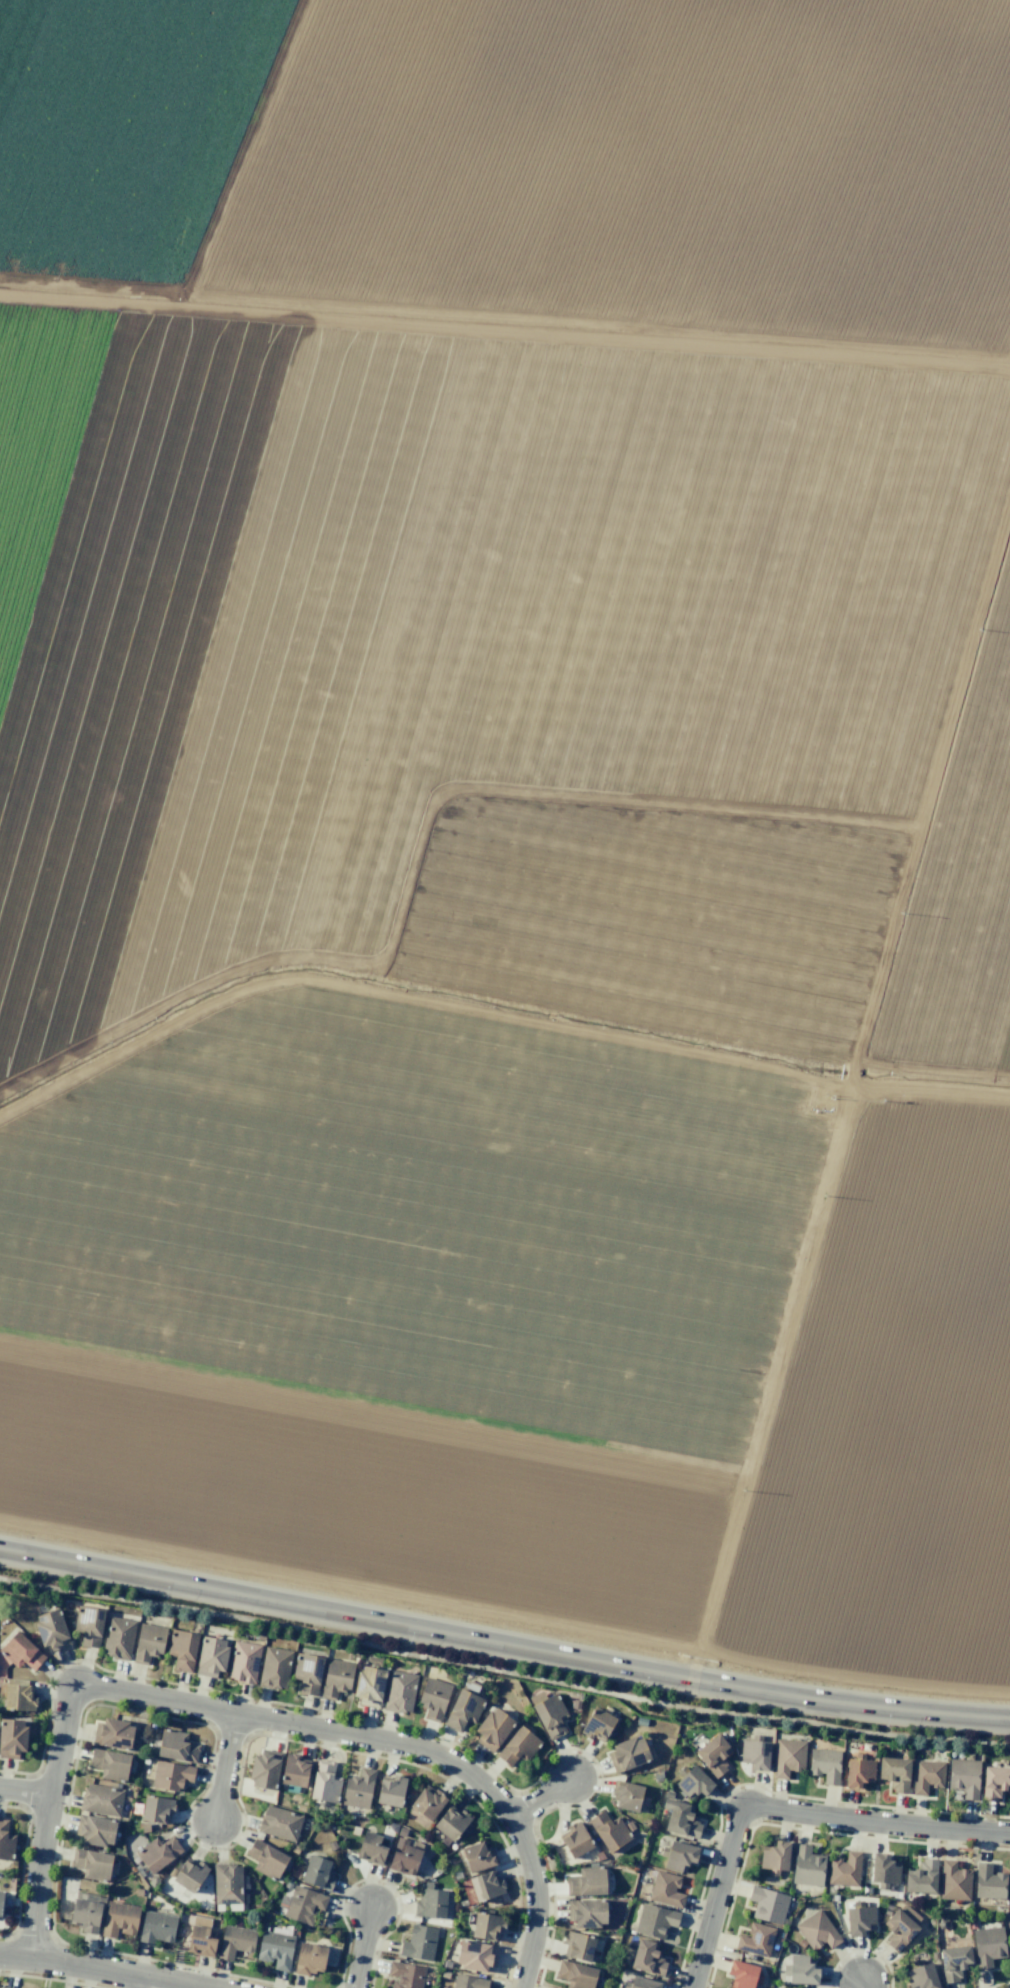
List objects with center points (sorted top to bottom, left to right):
crop: (513, 803)
building: (89, 1625)
building: (52, 1630)
building: (118, 1638)
building: (148, 1643)
road: (503, 1647)
building: (182, 1650)
building: (21, 1652)
building: (211, 1656)
building: (243, 1662)
building: (274, 1668)
building: (307, 1673)
building: (336, 1678)
building: (369, 1686)
building: (399, 1691)
building: (19, 1698)
building: (433, 1698)
building: (463, 1710)
building: (548, 1714)
building: (597, 1725)
building: (493, 1729)
building: (113, 1734)
building: (12, 1738)
road: (357, 1738)
building: (176, 1746)
building: (517, 1747)
building: (628, 1753)
building: (754, 1753)
building: (713, 1755)
building: (788, 1757)
building: (109, 1764)
building: (824, 1765)
building: (264, 1770)
building: (294, 1771)
building: (858, 1771)
road: (227, 1772)
building: (894, 1773)
building: (171, 1775)
building: (926, 1776)
building: (964, 1777)
building: (324, 1782)
building: (994, 1782)
building: (693, 1783)
building: (358, 1789)
road: (27, 1790)
building: (390, 1791)
building: (627, 1796)
building: (101, 1800)
road: (543, 1801)
building: (427, 1802)
road: (784, 1808)
building: (156, 1809)
building: (679, 1818)
building: (279, 1823)
building: (453, 1825)
building: (95, 1830)
building: (608, 1831)
building: (575, 1840)
building: (5, 1842)
building: (370, 1848)
building: (157, 1853)
building: (678, 1856)
building: (774, 1856)
building: (403, 1857)
building: (477, 1857)
road: (44, 1858)
building: (266, 1859)
building: (91, 1864)
building: (807, 1866)
building: (844, 1869)
building: (884, 1869)
building: (318, 1872)
building: (189, 1875)
building: (921, 1877)
building: (953, 1881)
building: (586, 1882)
building: (988, 1882)
building: (227, 1884)
building: (486, 1886)
building: (666, 1890)
building: (430, 1903)
building: (301, 1904)
building: (768, 1905)
building: (586, 1913)
building: (85, 1915)
building: (119, 1919)
building: (859, 1920)
building: (655, 1921)
building: (487, 1926)
building: (900, 1927)
building: (156, 1928)
building: (817, 1931)
building: (200, 1937)
building: (755, 1940)
building: (235, 1941)
building: (418, 1943)
building: (988, 1945)
building: (580, 1946)
road: (366, 1949)
building: (275, 1950)
building: (476, 1955)
building: (647, 1958)
building: (309, 1959)
building: (953, 1963)
road: (98, 1970)
building: (800, 1970)
building: (575, 1974)
building: (404, 1975)
building: (743, 1975)
building: (921, 1975)
building: (469, 1982)
building: (641, 1983)
road: (150, 1984)
road: (864, 1984)

